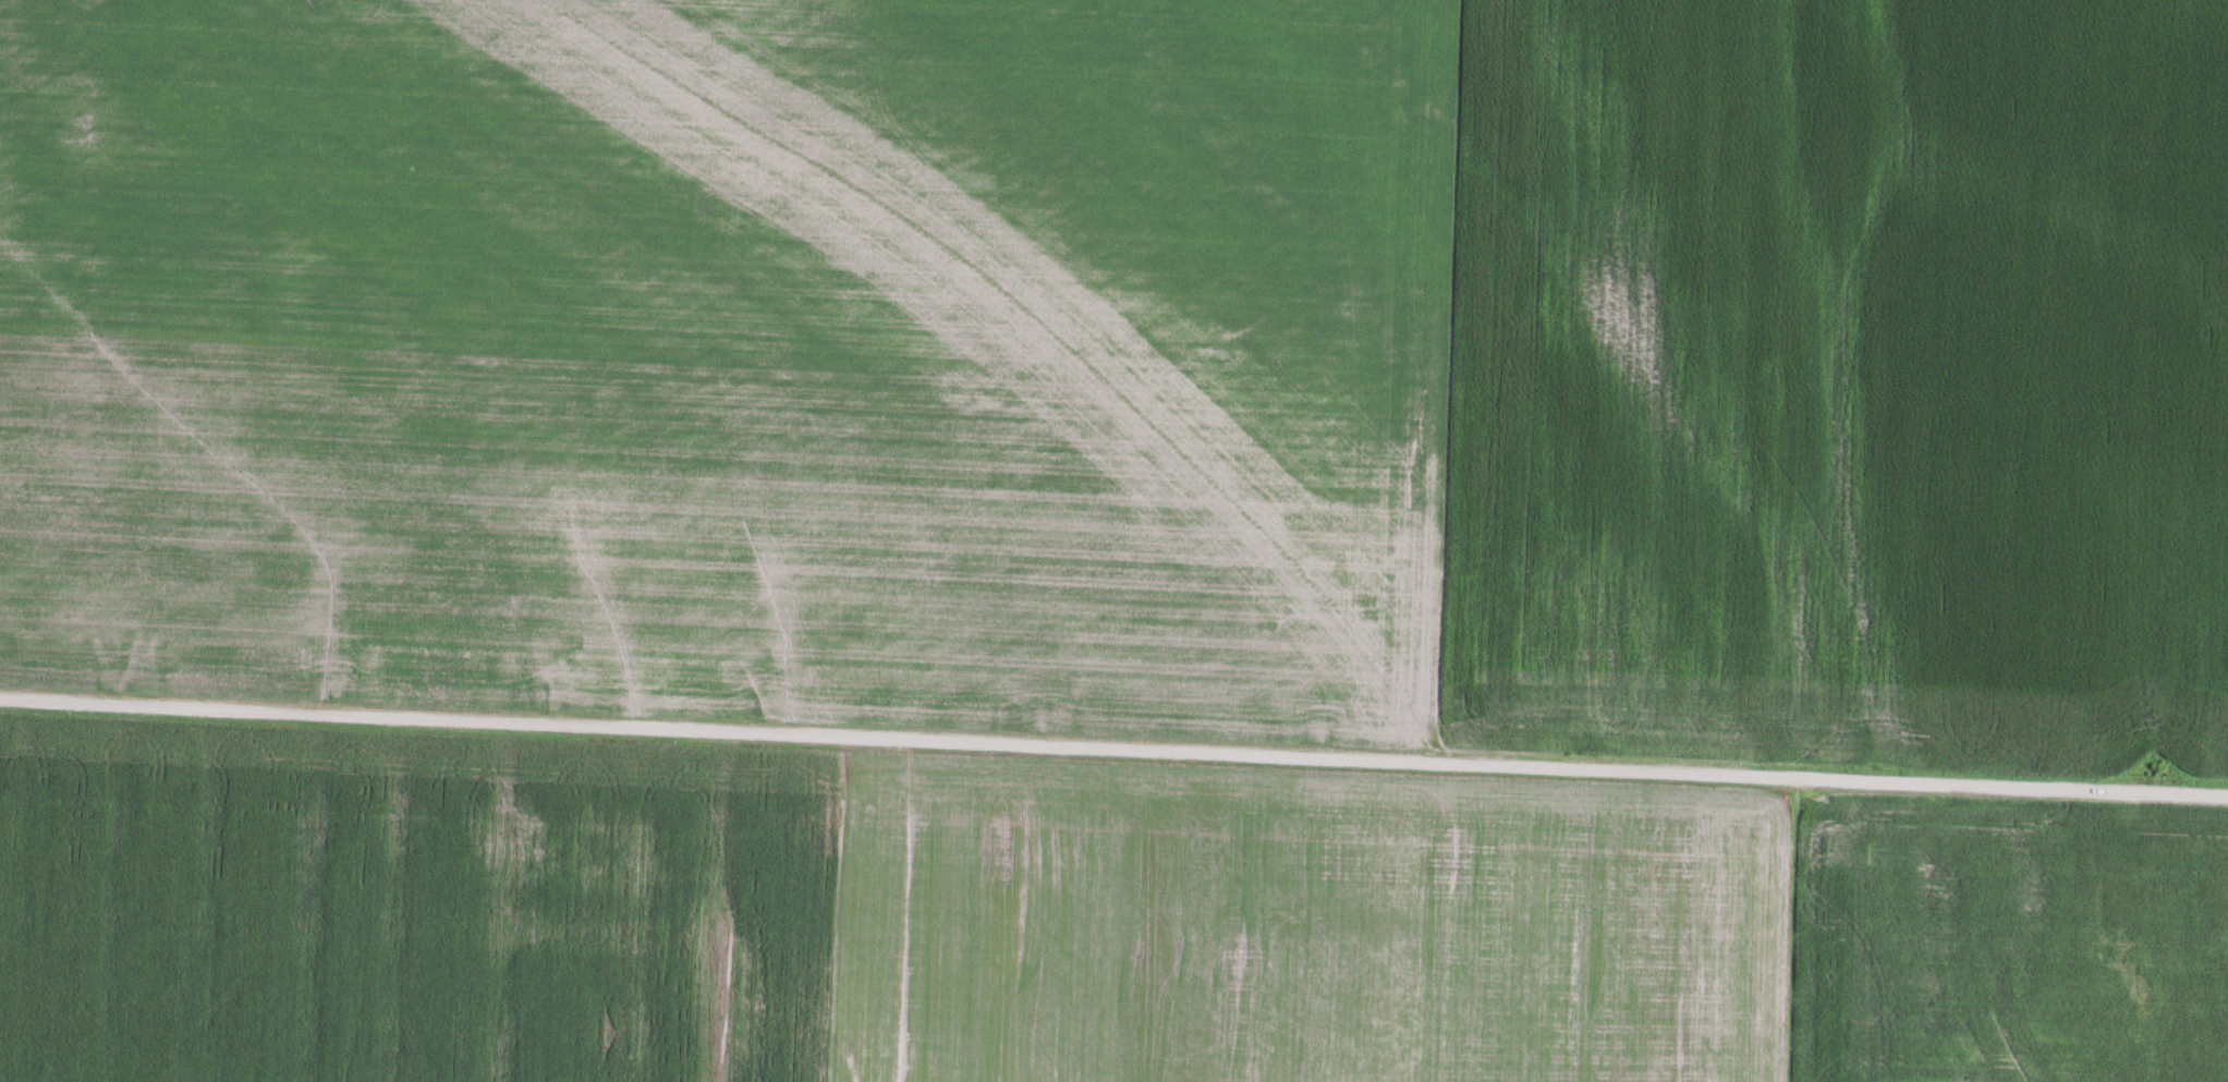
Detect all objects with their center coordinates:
road: (1113, 744)
road: (2133, 900)

